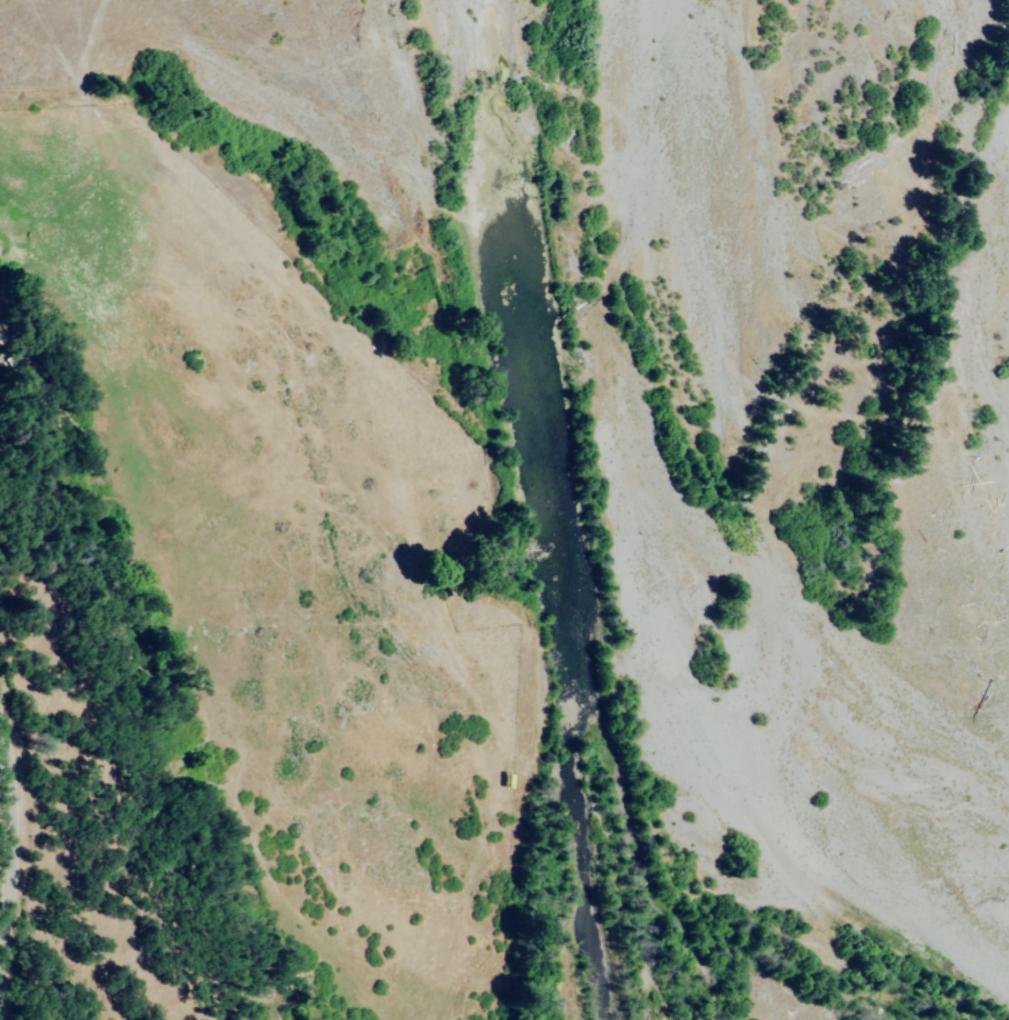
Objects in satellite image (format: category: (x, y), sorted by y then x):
river: (691, 515)

